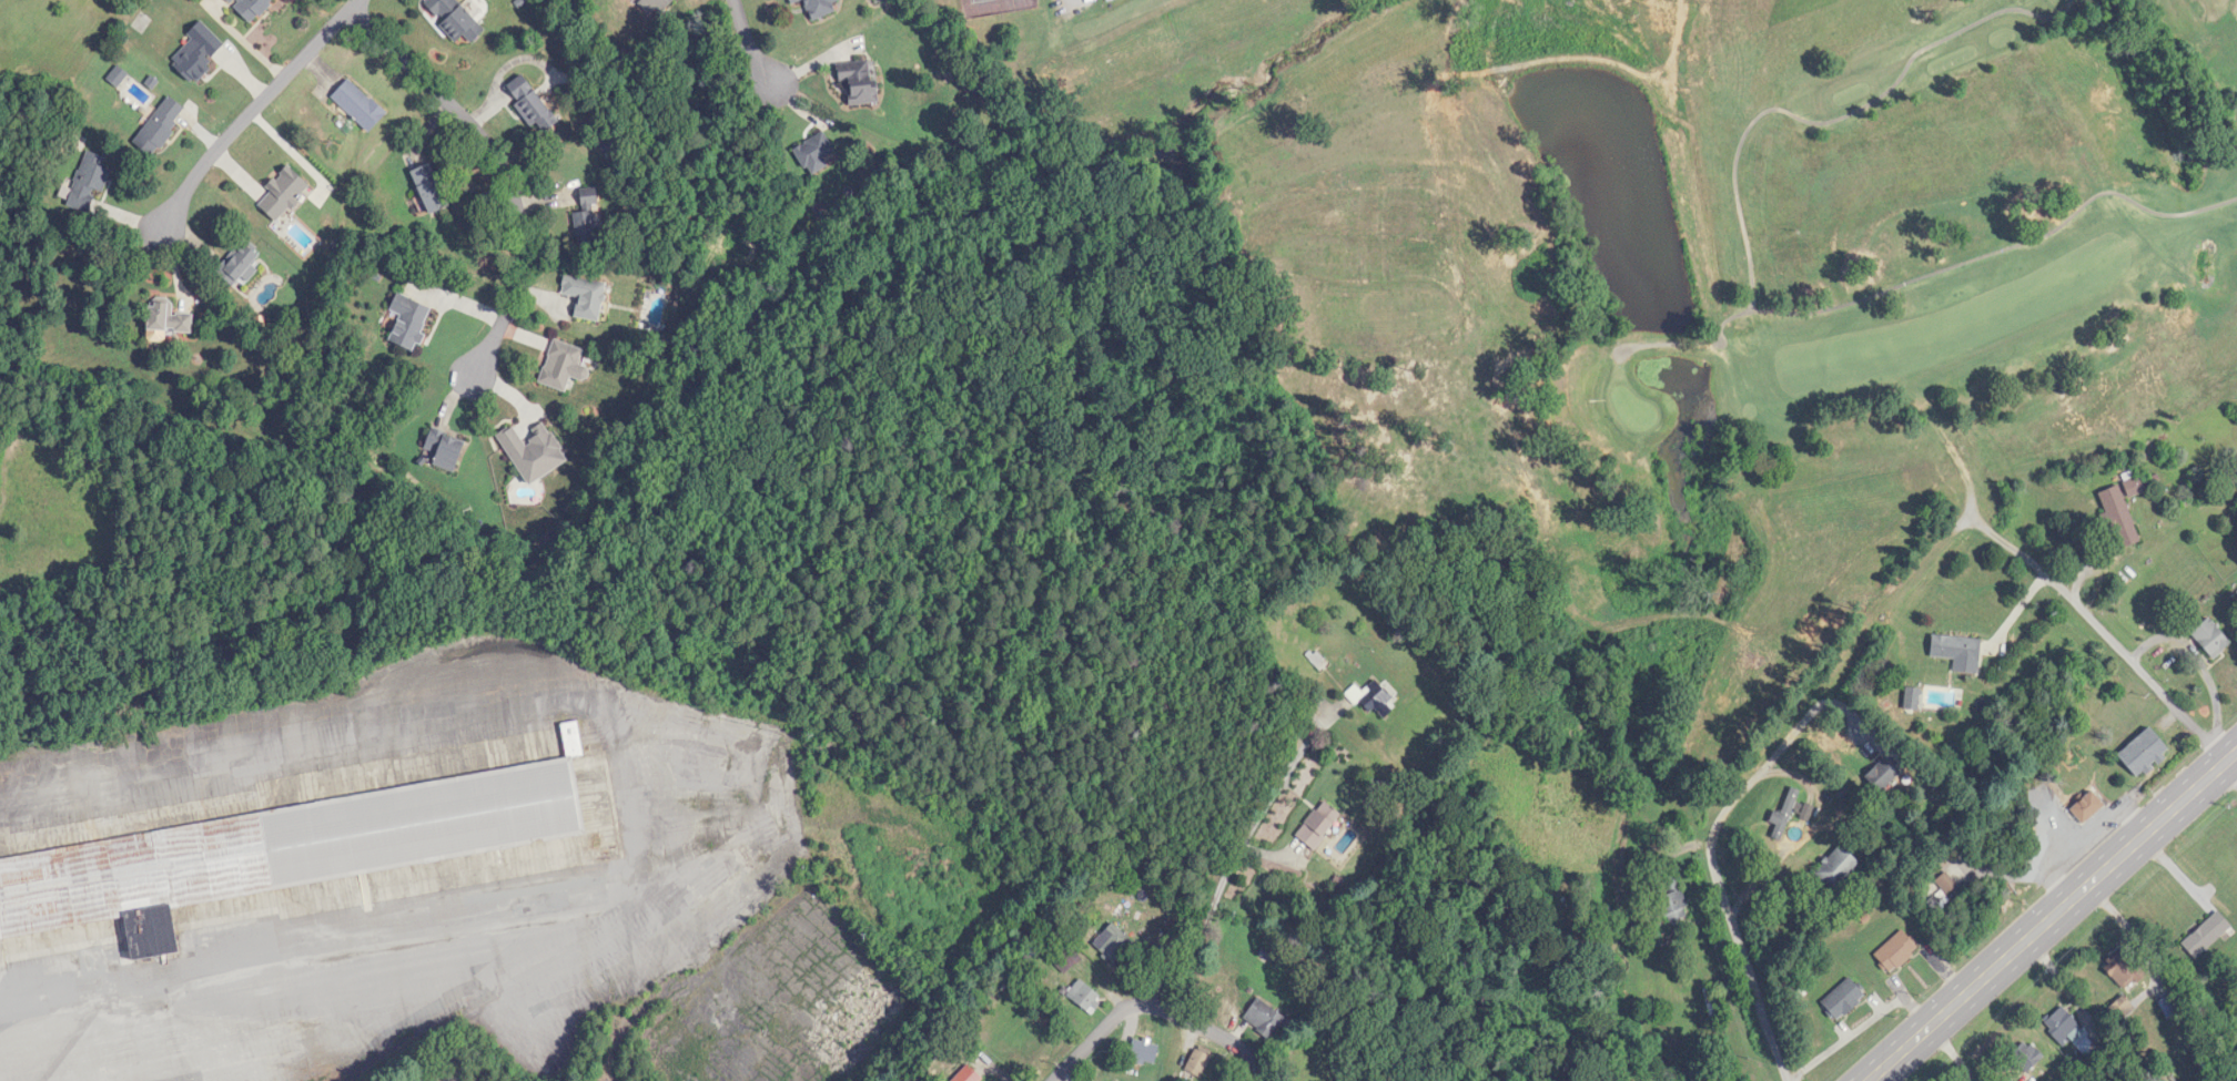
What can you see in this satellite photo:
building: (1107, 0)
building: (794, 1)
building: (659, 4)
building: (251, 8)
building: (820, 8)
building: (455, 19)
road: (747, 43)
building: (199, 52)
building: (860, 82)
building: (360, 105)
building: (535, 108)
road: (254, 109)
building: (161, 125)
building: (816, 153)
road: (502, 170)
building: (90, 182)
building: (431, 188)
building: (284, 193)
building: (587, 222)
building: (240, 264)
building: (587, 297)
building: (169, 319)
building: (409, 322)
building: (565, 366)
building: (445, 449)
building: (535, 452)
building: (2135, 486)
building: (2119, 517)
building: (2211, 639)
building: (1958, 652)
road: (2135, 663)
building: (1913, 698)
building: (1375, 700)
building: (2145, 753)
road: (1791, 771)
building: (1882, 775)
road: (2228, 775)
building: (2088, 808)
building: (1785, 815)
building: (1319, 826)
building: (274, 854)
road: (1232, 861)
building: (1838, 868)
road: (2052, 917)
building: (2207, 935)
road: (2135, 937)
building: (1897, 951)
building: (2125, 969)
building: (1084, 996)
road: (1757, 998)
building: (1844, 998)
road: (1156, 1006)
building: (1263, 1018)
building: (2064, 1026)
road: (611, 1044)
building: (1144, 1051)
building: (2026, 1057)
building: (1200, 1062)
building: (969, 1075)
road: (606, 1080)

